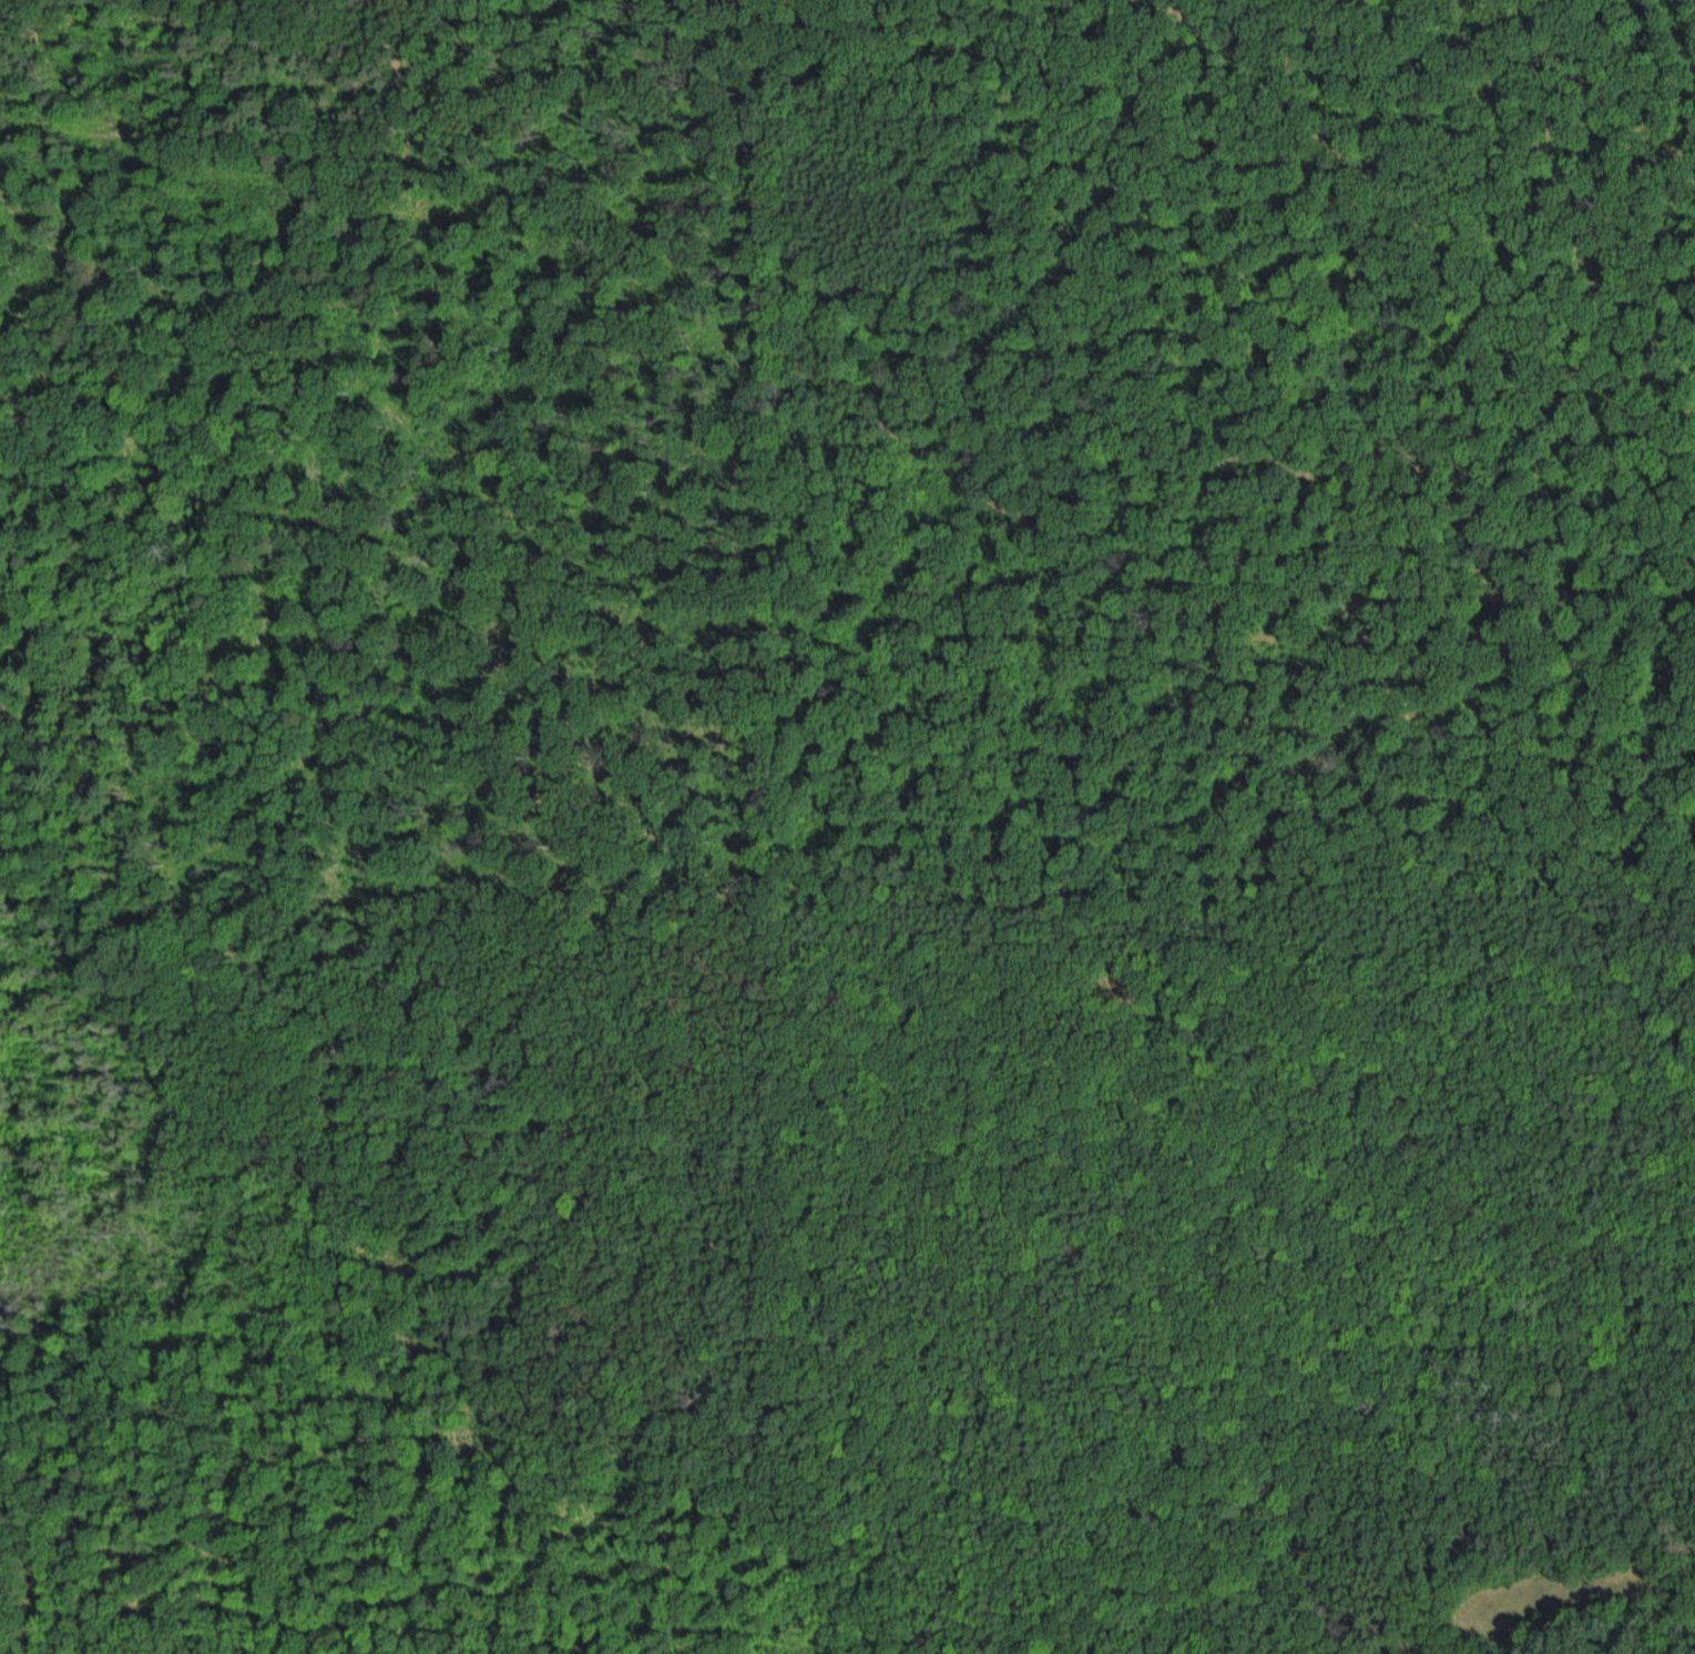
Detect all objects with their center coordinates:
road: (1594, 1606)

